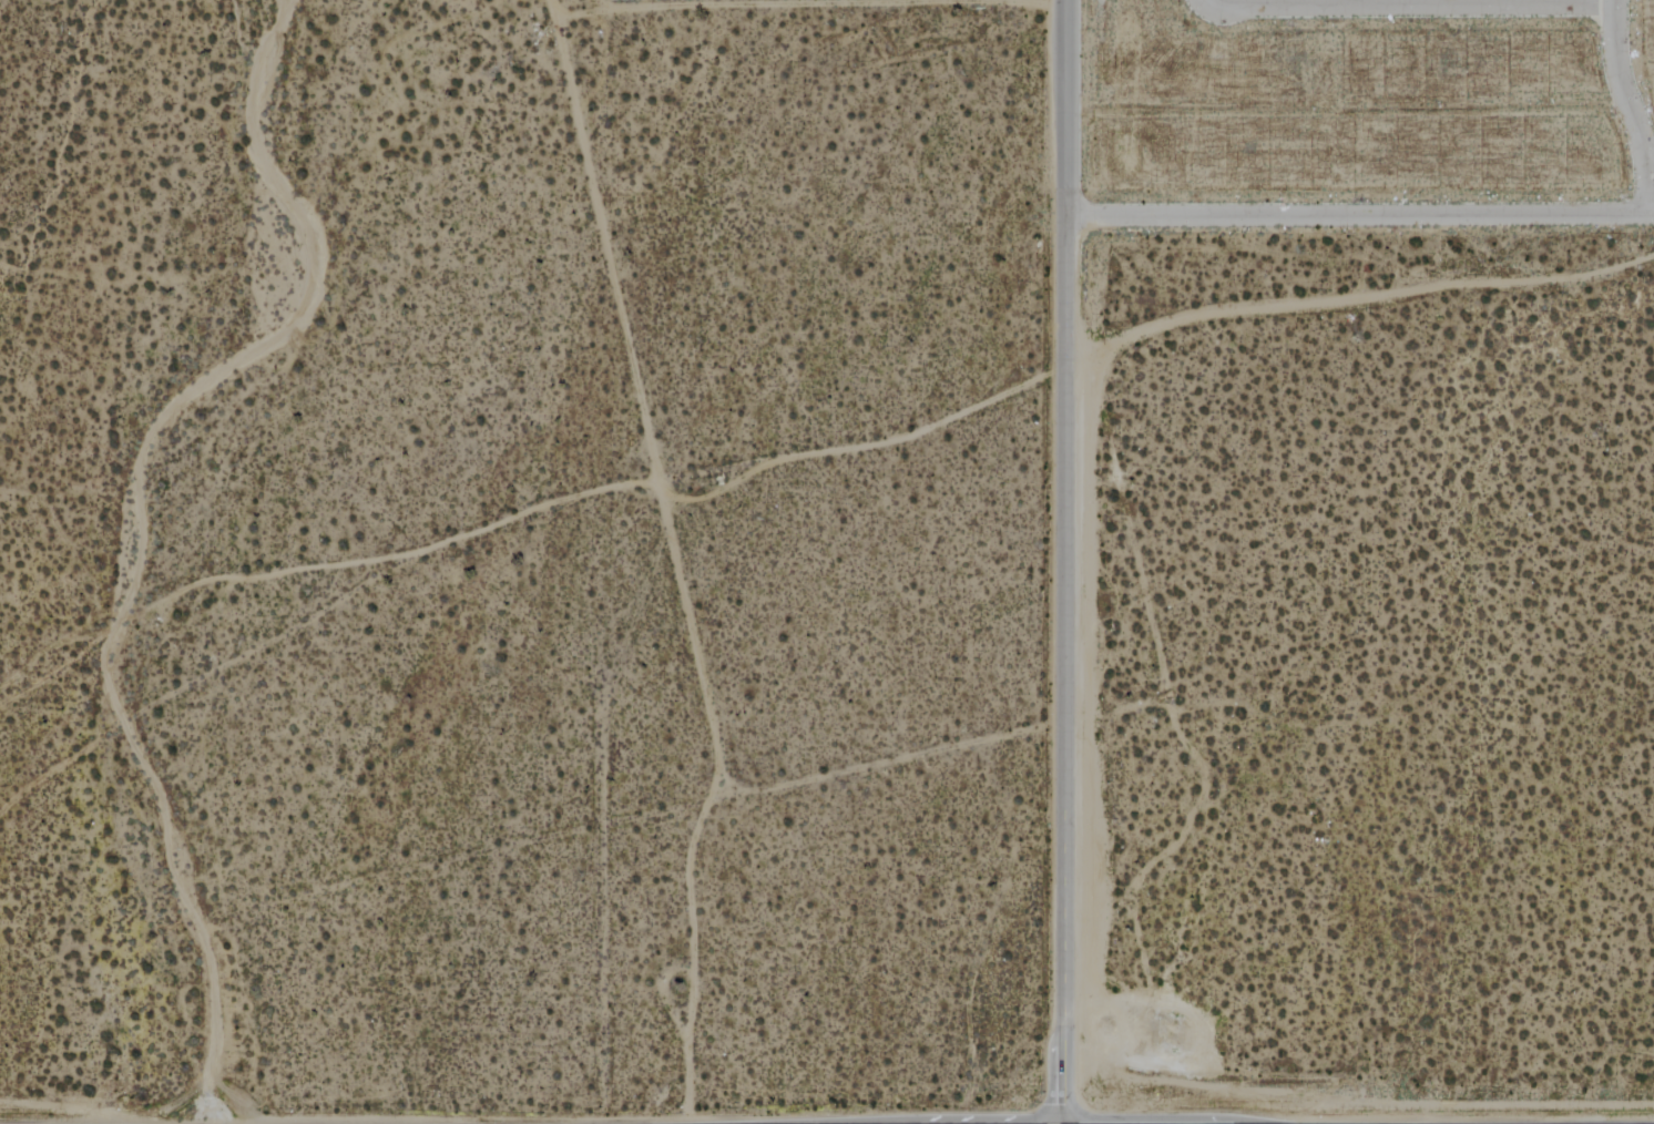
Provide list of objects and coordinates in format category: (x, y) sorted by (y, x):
road: (1510, 1)
road: (1630, 108)
road: (1360, 215)
road: (140, 525)
road: (1062, 562)
road: (51, 677)

